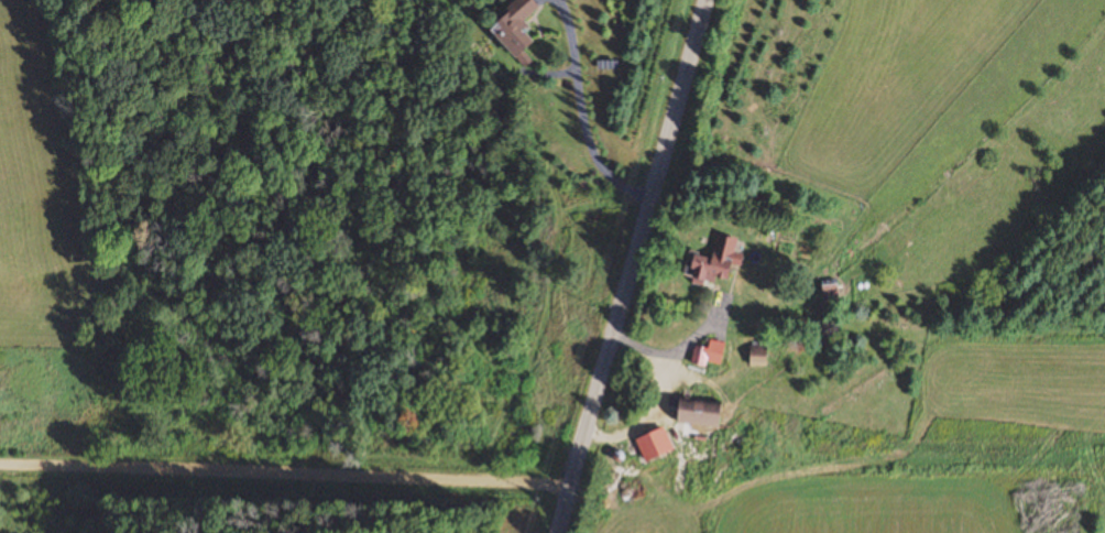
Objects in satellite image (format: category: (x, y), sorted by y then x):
building: (514, 29)
building: (714, 262)
road: (626, 266)
building: (830, 291)
building: (708, 355)
building: (758, 356)
building: (698, 413)
road: (285, 486)

